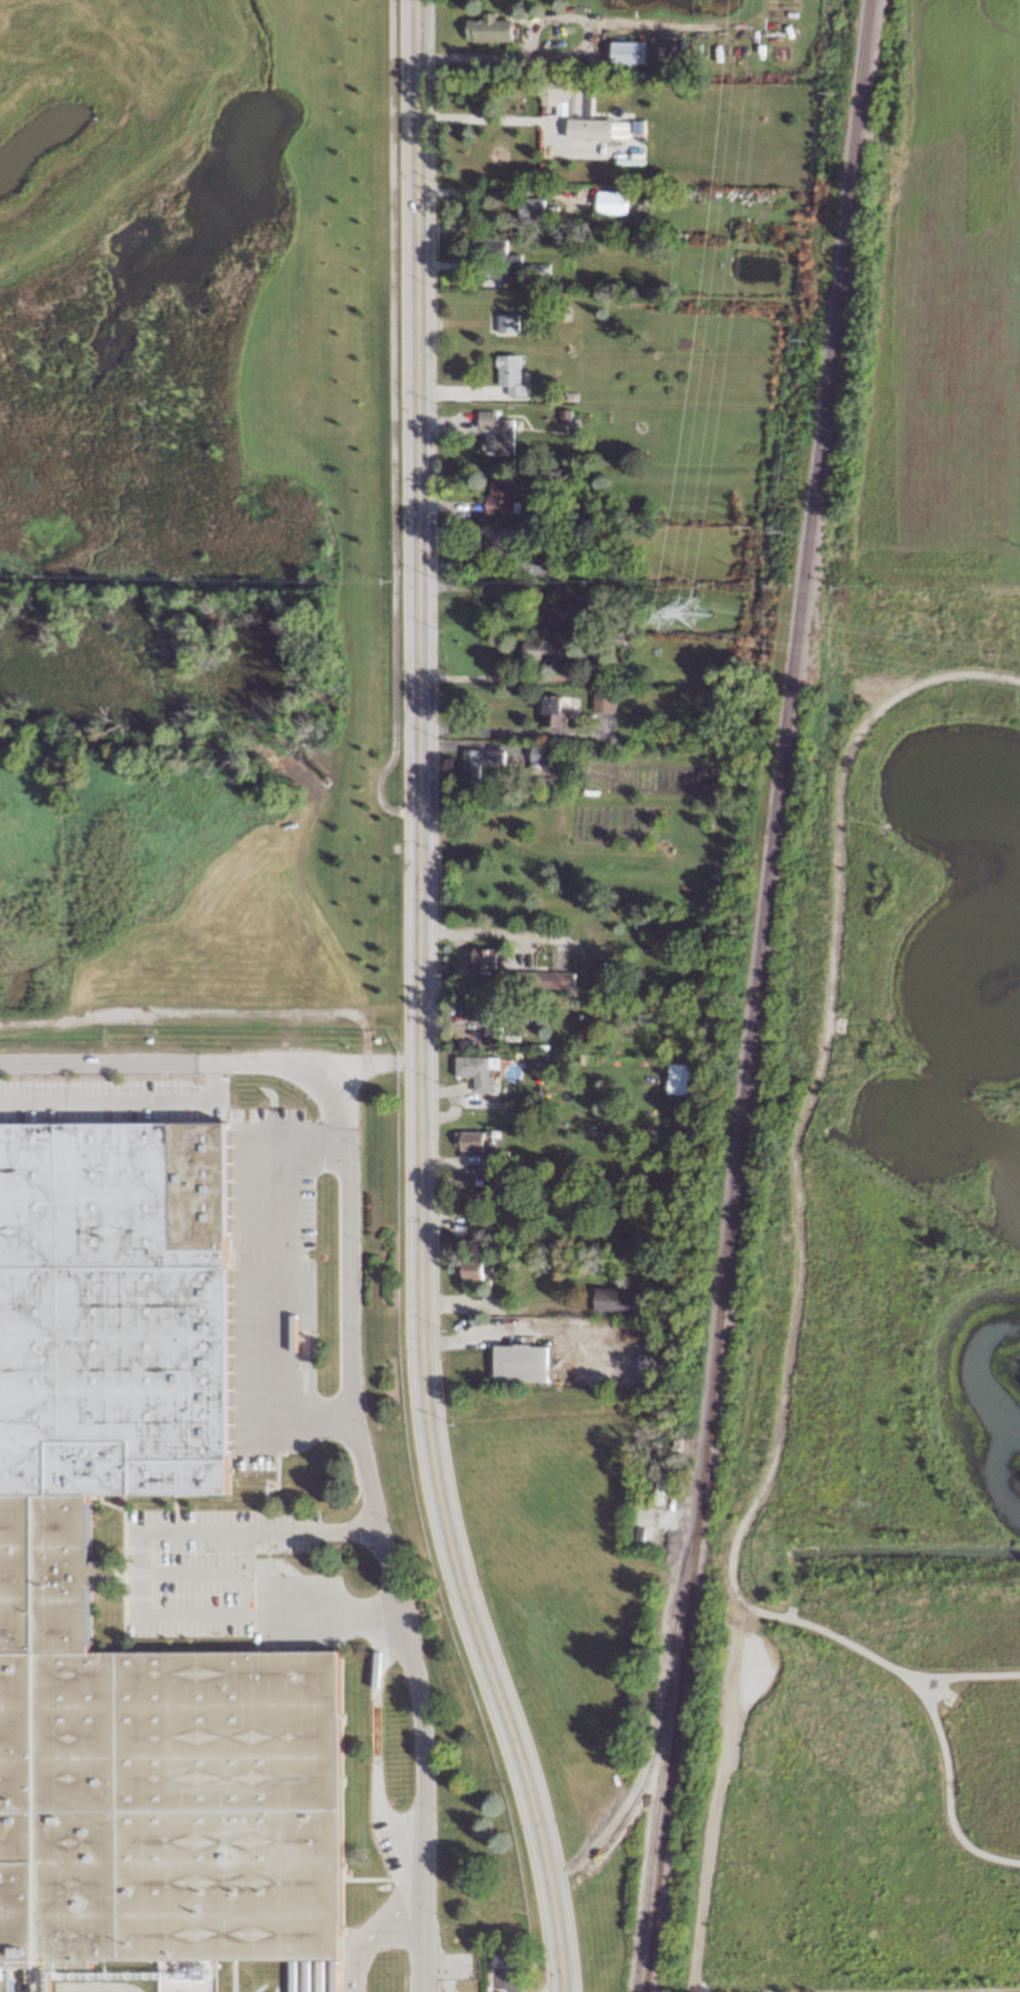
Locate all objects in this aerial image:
building: (489, 29)
building: (627, 52)
road: (473, 56)
power tower: (832, 93)
building: (579, 112)
road: (473, 118)
building: (610, 202)
building: (530, 211)
building: (488, 248)
building: (514, 266)
building: (535, 270)
building: (506, 324)
power tower: (803, 339)
building: (509, 375)
road: (416, 407)
building: (563, 416)
road: (388, 425)
building: (495, 434)
building: (497, 495)
power tower: (780, 531)
road: (495, 587)
power tower: (692, 611)
building: (547, 650)
road: (493, 679)
building: (603, 702)
building: (552, 713)
building: (538, 758)
building: (480, 761)
road: (486, 933)
building: (484, 958)
road: (455, 972)
building: (542, 981)
railway: (756, 995)
building: (477, 1016)
road: (206, 1017)
road: (392, 1017)
building: (492, 1035)
road: (362, 1065)
building: (477, 1070)
building: (675, 1079)
road: (318, 1084)
road: (815, 1095)
building: (472, 1141)
building: (476, 1270)
building: (619, 1301)
road: (503, 1332)
park: (880, 1361)
building: (519, 1363)
road: (425, 1412)
road: (244, 1573)
building: (47, 1575)
road: (135, 1583)
road: (764, 1615)
road: (967, 1679)
road: (416, 1693)
railway: (662, 1736)
railway: (640, 1792)
road: (369, 1935)
building: (513, 1977)

